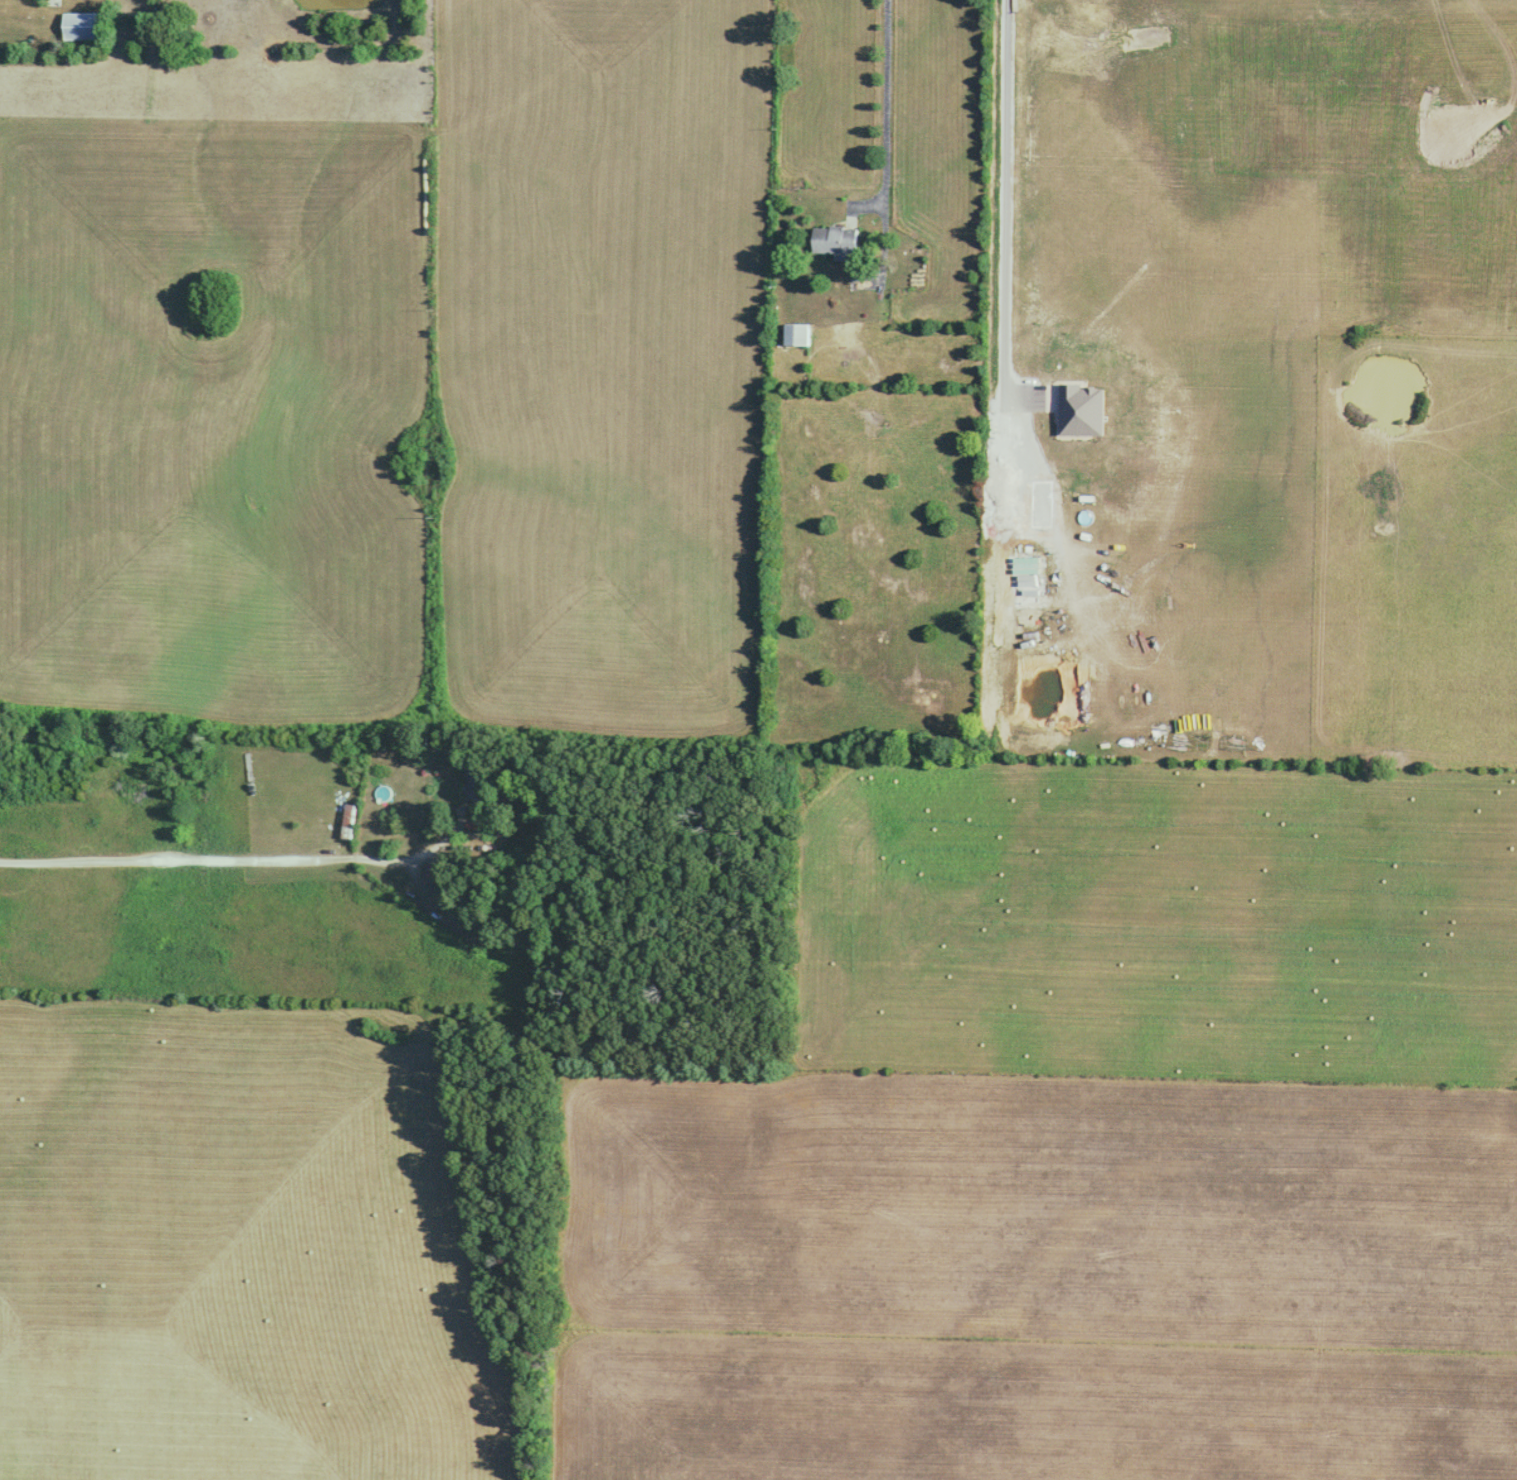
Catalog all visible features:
building: (85, 27)
road: (887, 103)
building: (835, 243)
building: (796, 336)
road: (237, 857)

